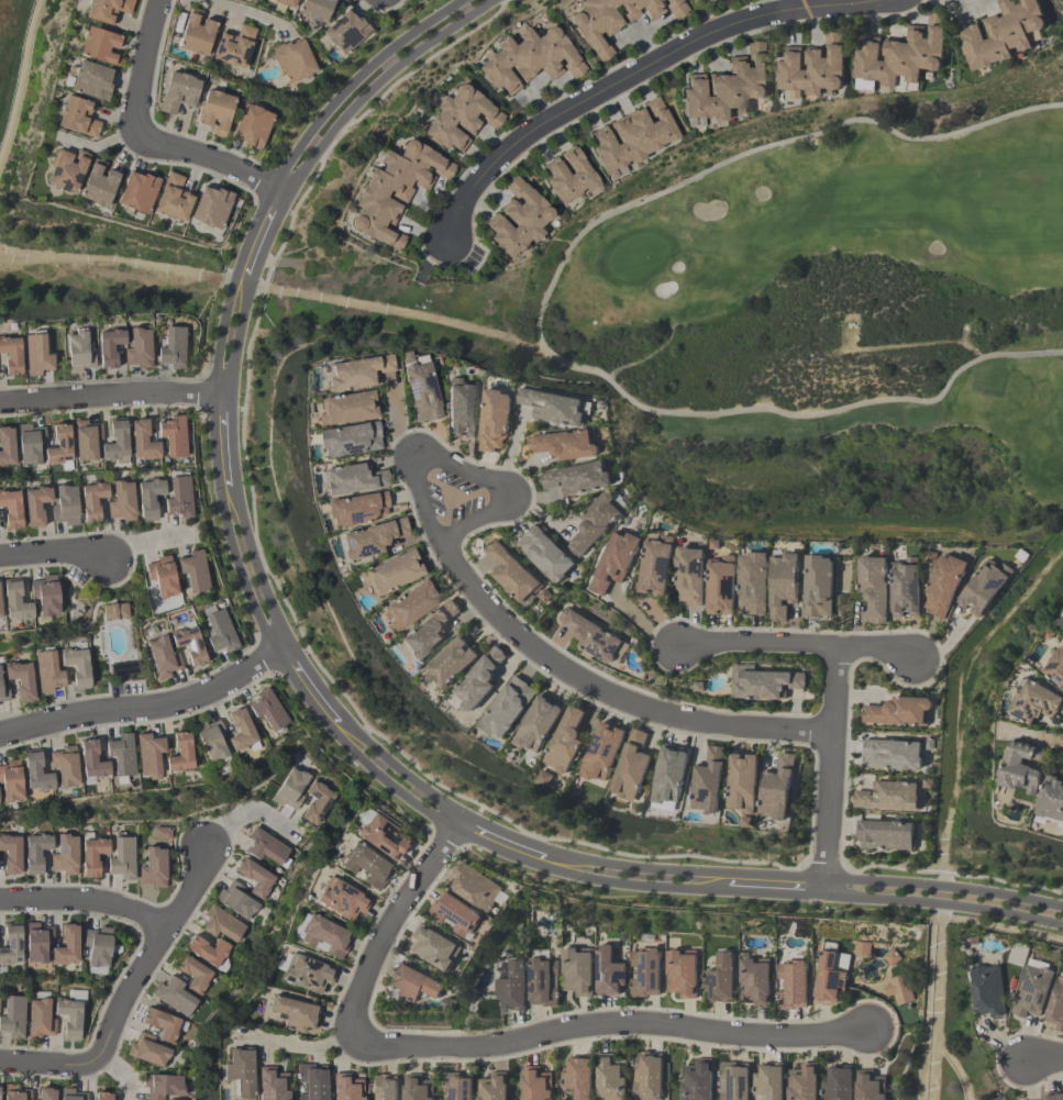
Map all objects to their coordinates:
building: (708, 0)
building: (281, 4)
road: (967, 5)
road: (767, 7)
building: (675, 8)
building: (107, 10)
building: (315, 10)
road: (240, 12)
building: (606, 21)
building: (196, 33)
building: (342, 33)
building: (1001, 33)
building: (98, 46)
building: (233, 46)
building: (901, 57)
building: (529, 59)
building: (294, 60)
road: (141, 64)
building: (813, 68)
road: (632, 75)
road: (19, 77)
building: (91, 80)
road: (366, 81)
building: (728, 87)
building: (178, 92)
building: (215, 111)
building: (77, 116)
building: (457, 118)
building: (252, 126)
building: (632, 136)
road: (207, 158)
building: (66, 170)
building: (568, 176)
building: (98, 184)
building: (392, 190)
building: (136, 192)
building: (173, 198)
building: (211, 207)
building: (518, 219)
road: (261, 232)
road: (121, 264)
road: (394, 311)
road: (230, 332)
park: (835, 334)
building: (109, 347)
building: (137, 348)
building: (171, 348)
building: (78, 352)
building: (35, 354)
building: (10, 355)
building: (356, 373)
building: (421, 389)
road: (110, 399)
building: (555, 407)
building: (345, 408)
building: (461, 408)
building: (495, 420)
building: (173, 436)
building: (86, 440)
building: (348, 440)
building: (142, 441)
road: (222, 441)
building: (115, 442)
building: (29, 444)
building: (566, 444)
building: (5, 447)
building: (59, 447)
road: (462, 469)
building: (578, 478)
building: (352, 479)
building: (148, 498)
building: (178, 498)
building: (92, 500)
building: (121, 501)
building: (35, 504)
building: (65, 505)
building: (11, 509)
building: (356, 509)
building: (596, 523)
building: (372, 538)
road: (146, 541)
road: (52, 554)
building: (545, 554)
building: (616, 562)
building: (656, 565)
building: (193, 570)
road: (246, 570)
building: (512, 573)
building: (391, 574)
building: (690, 575)
building: (162, 577)
building: (753, 584)
building: (721, 585)
building: (784, 585)
building: (943, 585)
building: (819, 586)
building: (984, 586)
building: (874, 587)
building: (905, 588)
building: (45, 596)
building: (14, 601)
building: (411, 604)
building: (114, 611)
building: (0, 614)
building: (429, 630)
building: (219, 632)
building: (590, 635)
building: (188, 643)
road: (799, 647)
building: (162, 657)
building: (451, 662)
building: (76, 666)
building: (1055, 667)
building: (47, 673)
building: (20, 680)
building: (477, 681)
building: (763, 682)
road: (306, 688)
building: (3, 693)
road: (607, 696)
building: (1033, 702)
road: (145, 708)
building: (507, 708)
building: (267, 711)
building: (899, 712)
building: (538, 724)
building: (240, 732)
building: (210, 741)
building: (566, 741)
building: (601, 753)
building: (121, 755)
building: (148, 755)
building: (178, 755)
building: (892, 755)
building: (91, 762)
building: (64, 766)
building: (631, 767)
building: (1021, 767)
road: (833, 769)
building: (35, 773)
road: (392, 777)
building: (669, 778)
building: (10, 781)
building: (709, 781)
building: (743, 784)
building: (778, 788)
building: (290, 789)
building: (888, 797)
building: (1051, 800)
building: (317, 803)
road: (243, 815)
building: (163, 833)
building: (886, 835)
building: (384, 838)
road: (498, 840)
building: (266, 848)
building: (36, 852)
building: (10, 853)
building: (65, 855)
building: (91, 856)
building: (122, 858)
building: (366, 866)
building: (153, 868)
road: (633, 875)
building: (255, 878)
road: (778, 886)
road: (944, 886)
building: (475, 887)
road: (85, 900)
building: (235, 900)
building: (341, 900)
road: (944, 904)
building: (455, 914)
building: (221, 924)
road: (388, 925)
building: (324, 936)
building: (36, 943)
building: (10, 945)
building: (65, 946)
building: (97, 946)
building: (435, 948)
building: (862, 948)
building: (207, 952)
building: (892, 957)
building: (578, 970)
building: (609, 973)
building: (646, 973)
building: (831, 973)
building: (192, 974)
building: (307, 974)
building: (682, 974)
building: (720, 979)
building: (543, 981)
building: (755, 981)
building: (416, 985)
building: (793, 986)
building: (512, 988)
building: (899, 989)
building: (988, 991)
building: (1032, 991)
road: (125, 992)
building: (174, 997)
building: (1056, 1005)
building: (292, 1014)
building: (12, 1018)
building: (68, 1018)
building: (40, 1020)
road: (612, 1023)
building: (162, 1025)
road: (302, 1046)
building: (147, 1051)
road: (1044, 1059)
road: (122, 1071)
building: (239, 1074)
building: (649, 1076)
building: (579, 1077)
building: (612, 1077)
building: (698, 1080)
building: (310, 1081)
building: (735, 1081)
building: (771, 1082)
building: (805, 1082)
building: (539, 1084)
building: (839, 1084)
building: (272, 1085)
building: (163, 1086)
building: (459, 1086)
building: (871, 1086)
building: (345, 1087)
building: (385, 1087)
building: (495, 1087)
building: (419, 1088)
building: (14, 1093)
building: (45, 1095)
building: (70, 1095)
building: (1053, 1096)
building: (102, 1097)

